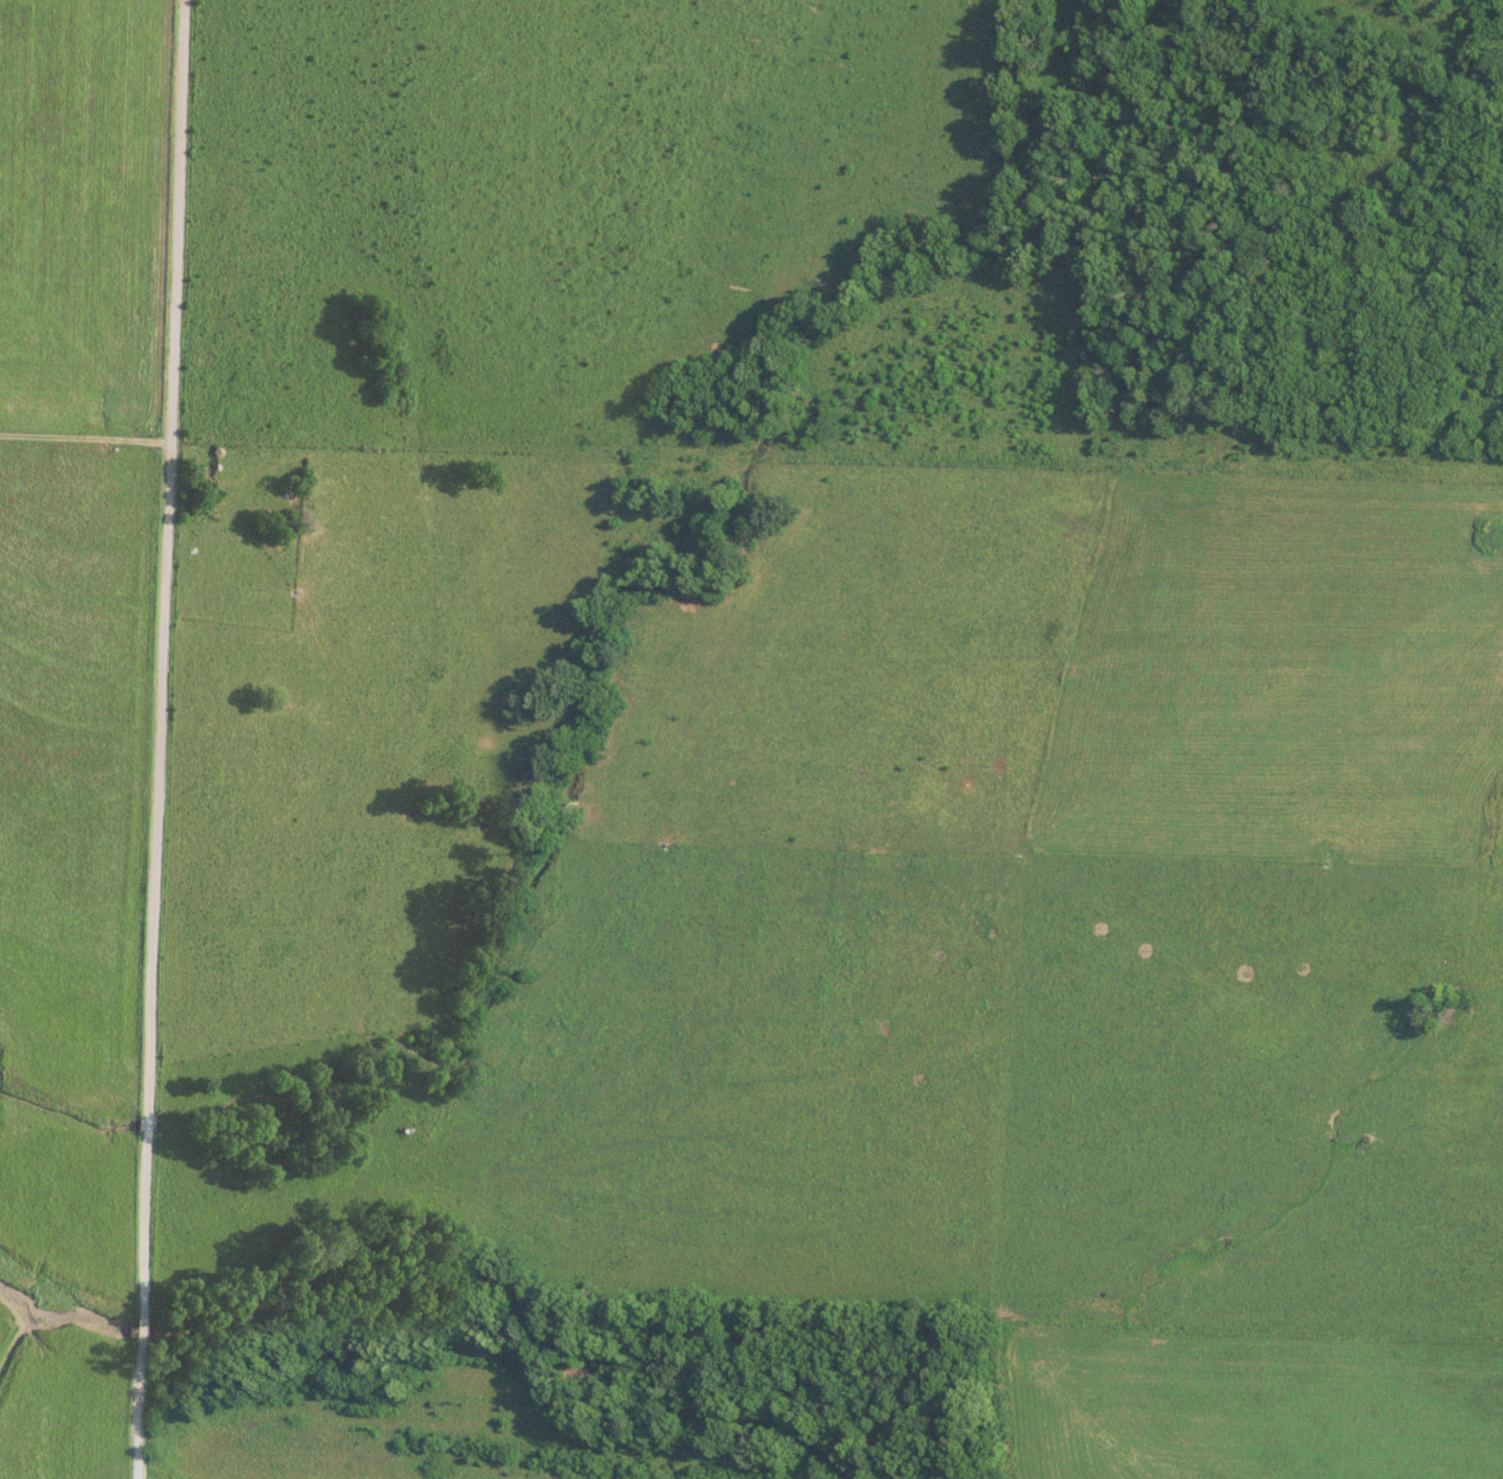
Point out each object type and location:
road: (85, 443)
road: (161, 739)

